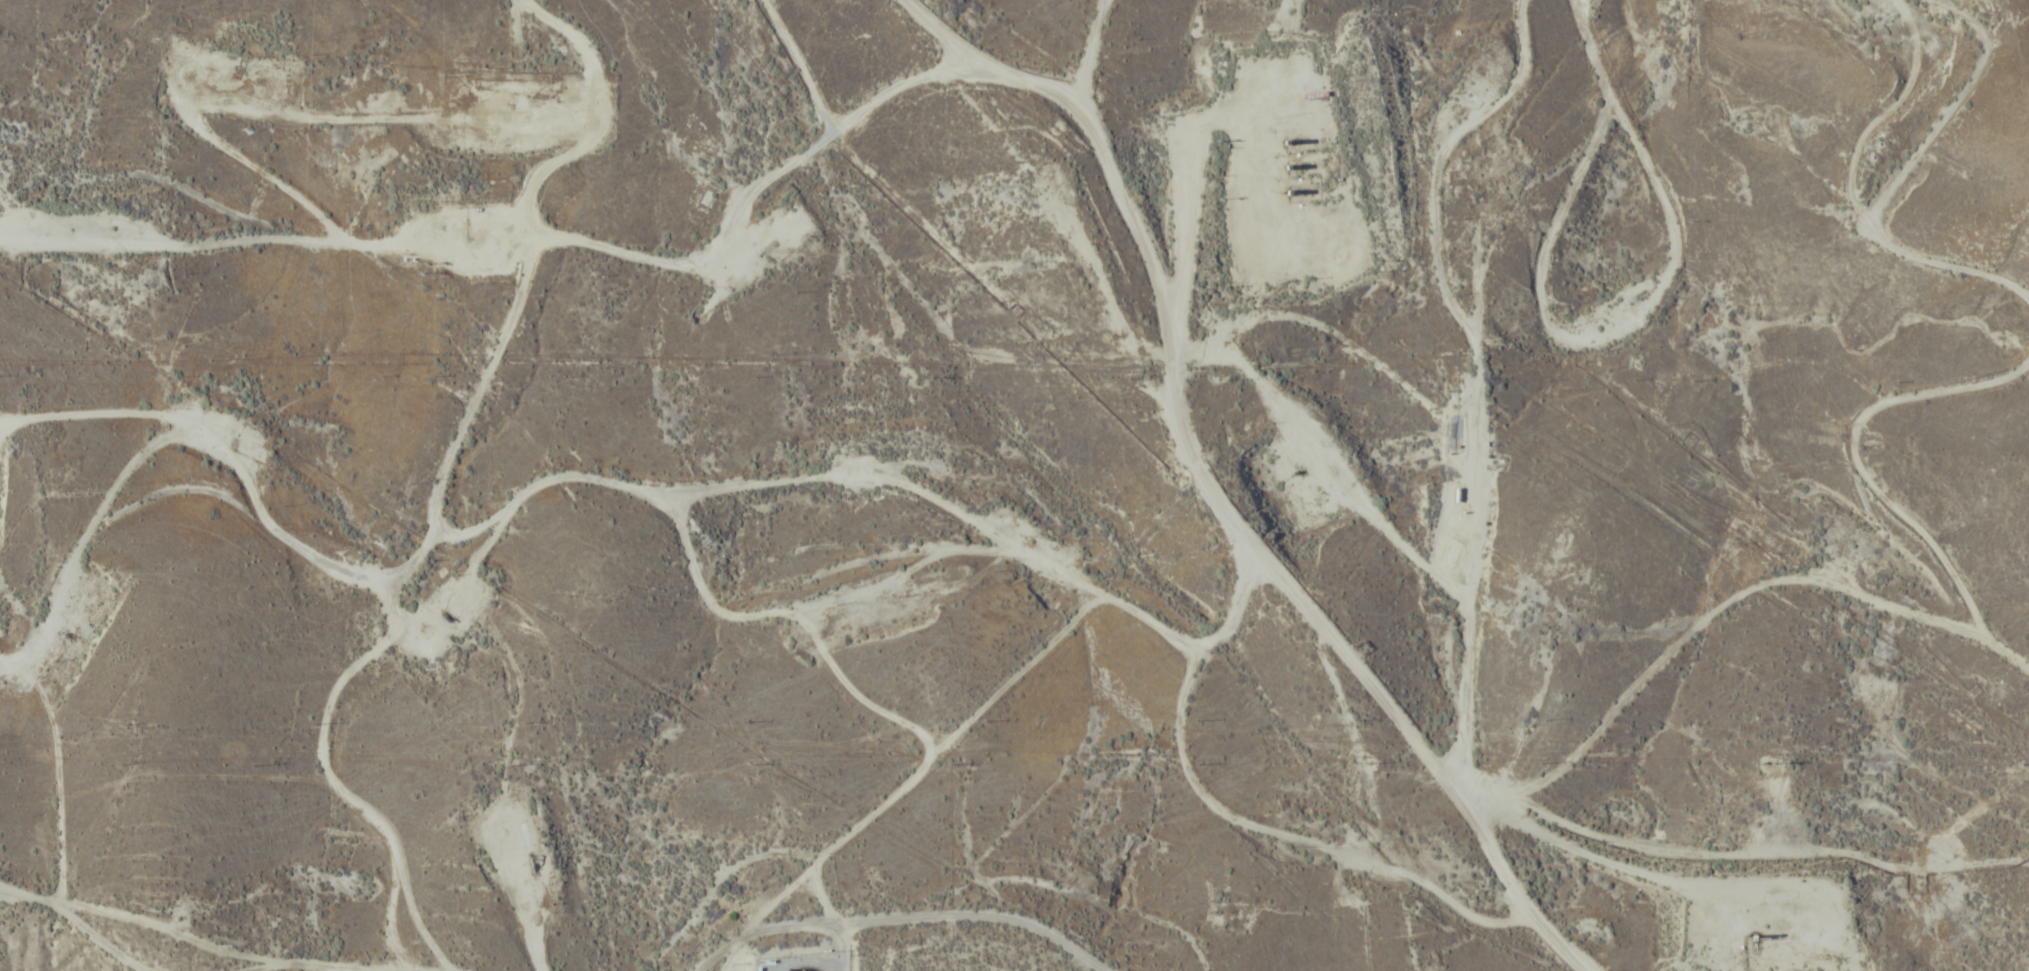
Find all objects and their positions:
road: (1182, 504)
road: (882, 935)
road: (427, 963)

